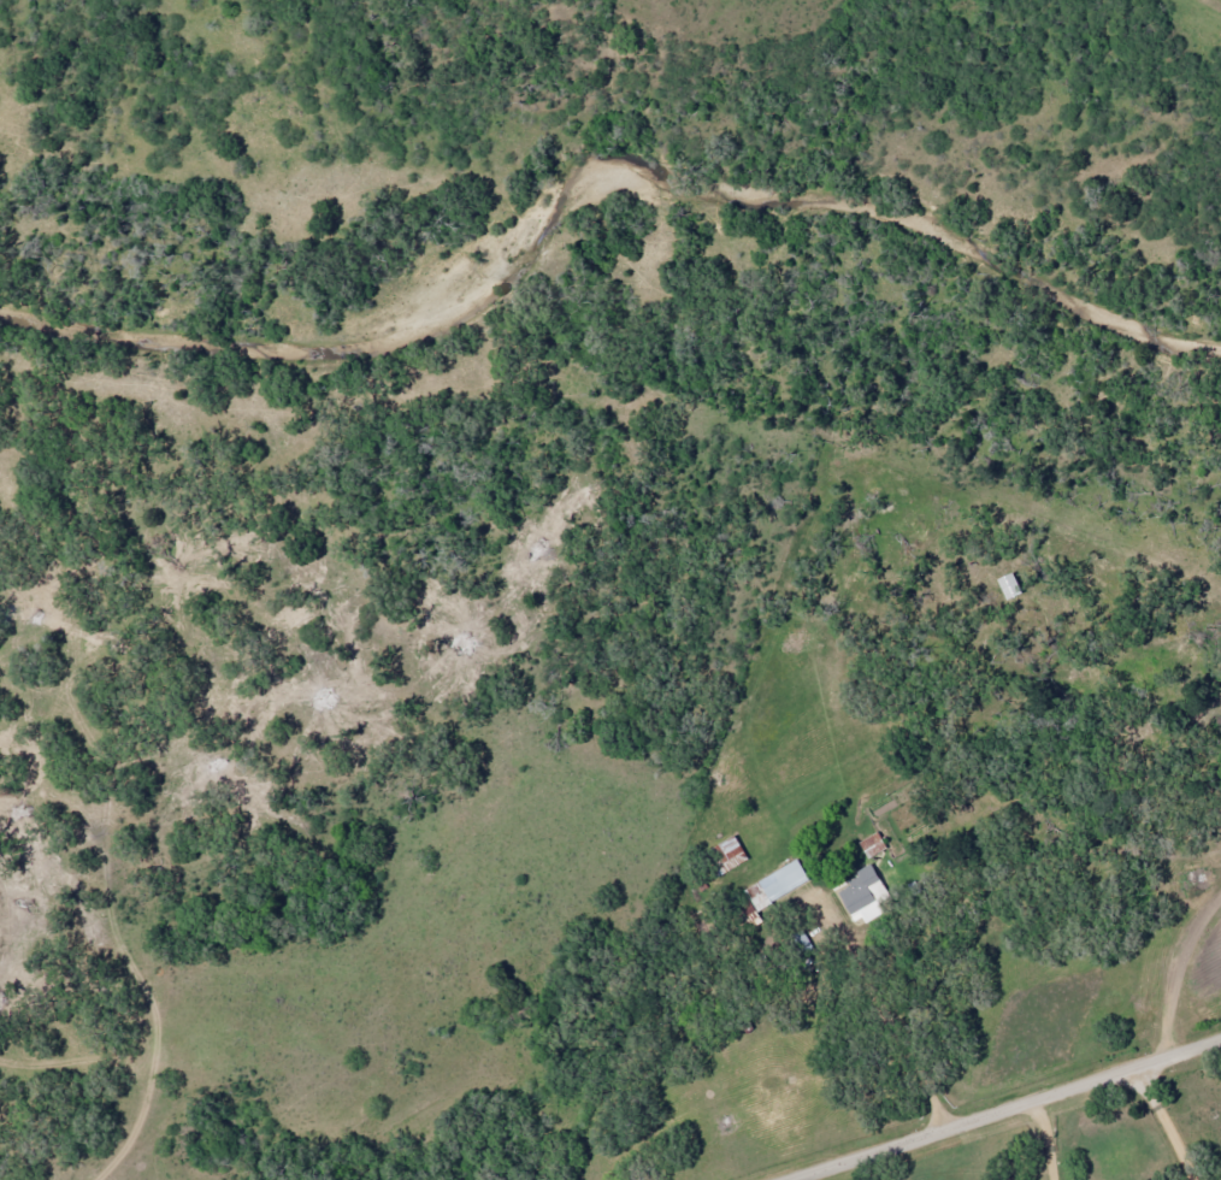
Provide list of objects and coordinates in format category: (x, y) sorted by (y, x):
building: (871, 844)
building: (725, 854)
building: (772, 890)
building: (861, 895)
road: (684, 1004)
road: (1002, 1108)

